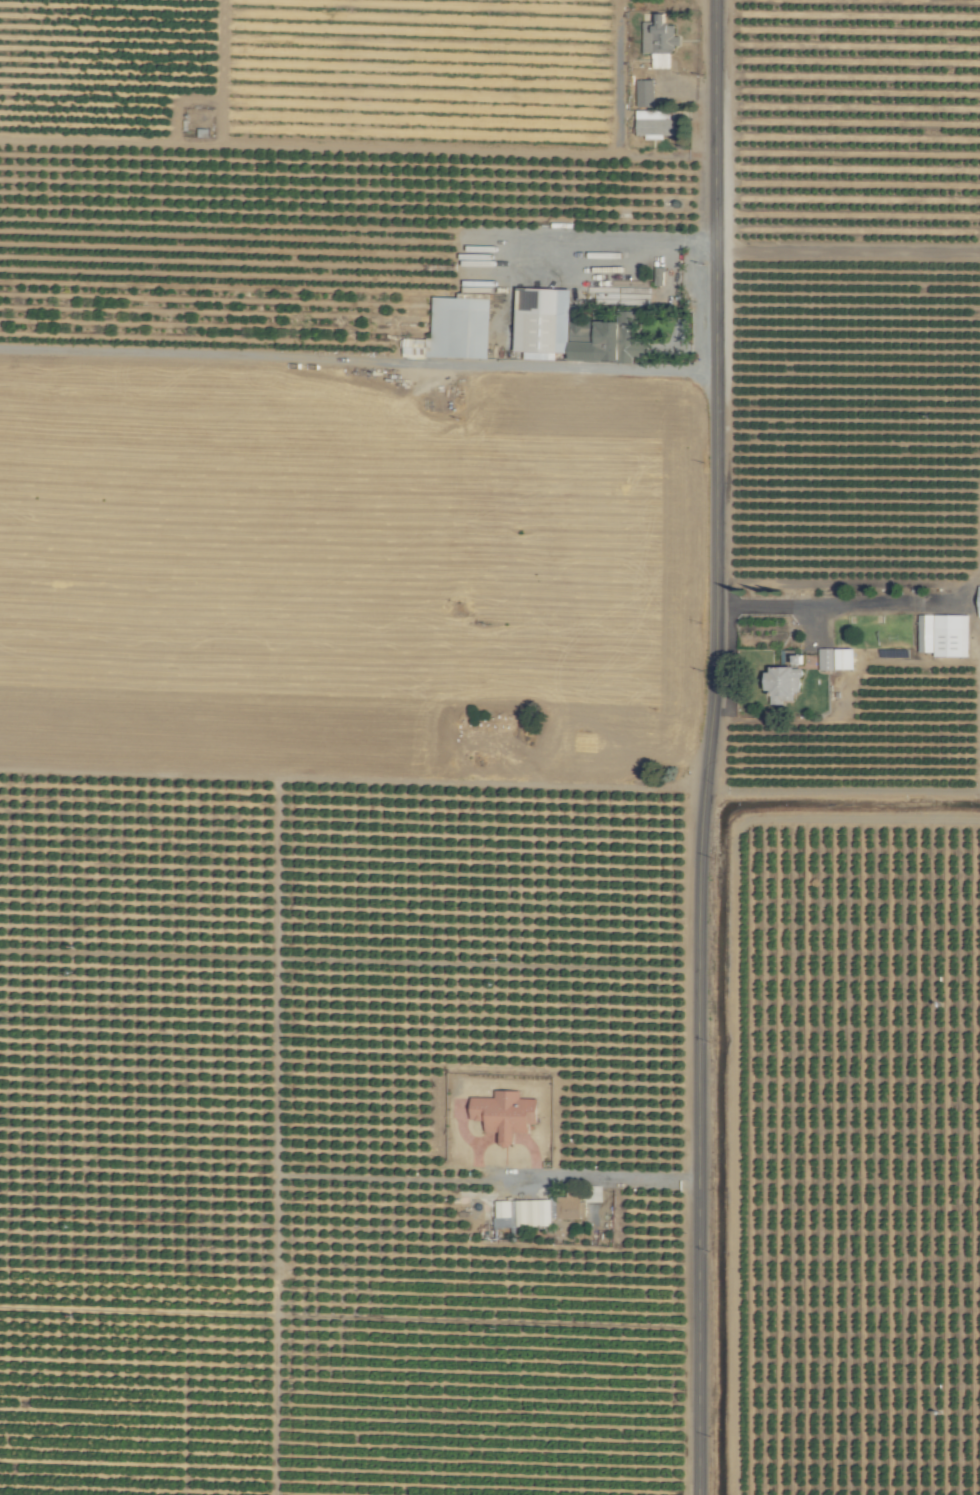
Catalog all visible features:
building: (660, 41)
building: (645, 93)
building: (657, 124)
building: (545, 321)
road: (574, 369)
building: (978, 601)
road: (854, 608)
building: (944, 635)
building: (836, 659)
building: (786, 679)
road: (705, 747)
crop: (529, 776)
building: (506, 1114)
road: (609, 1178)
building: (571, 1206)
building: (522, 1213)

